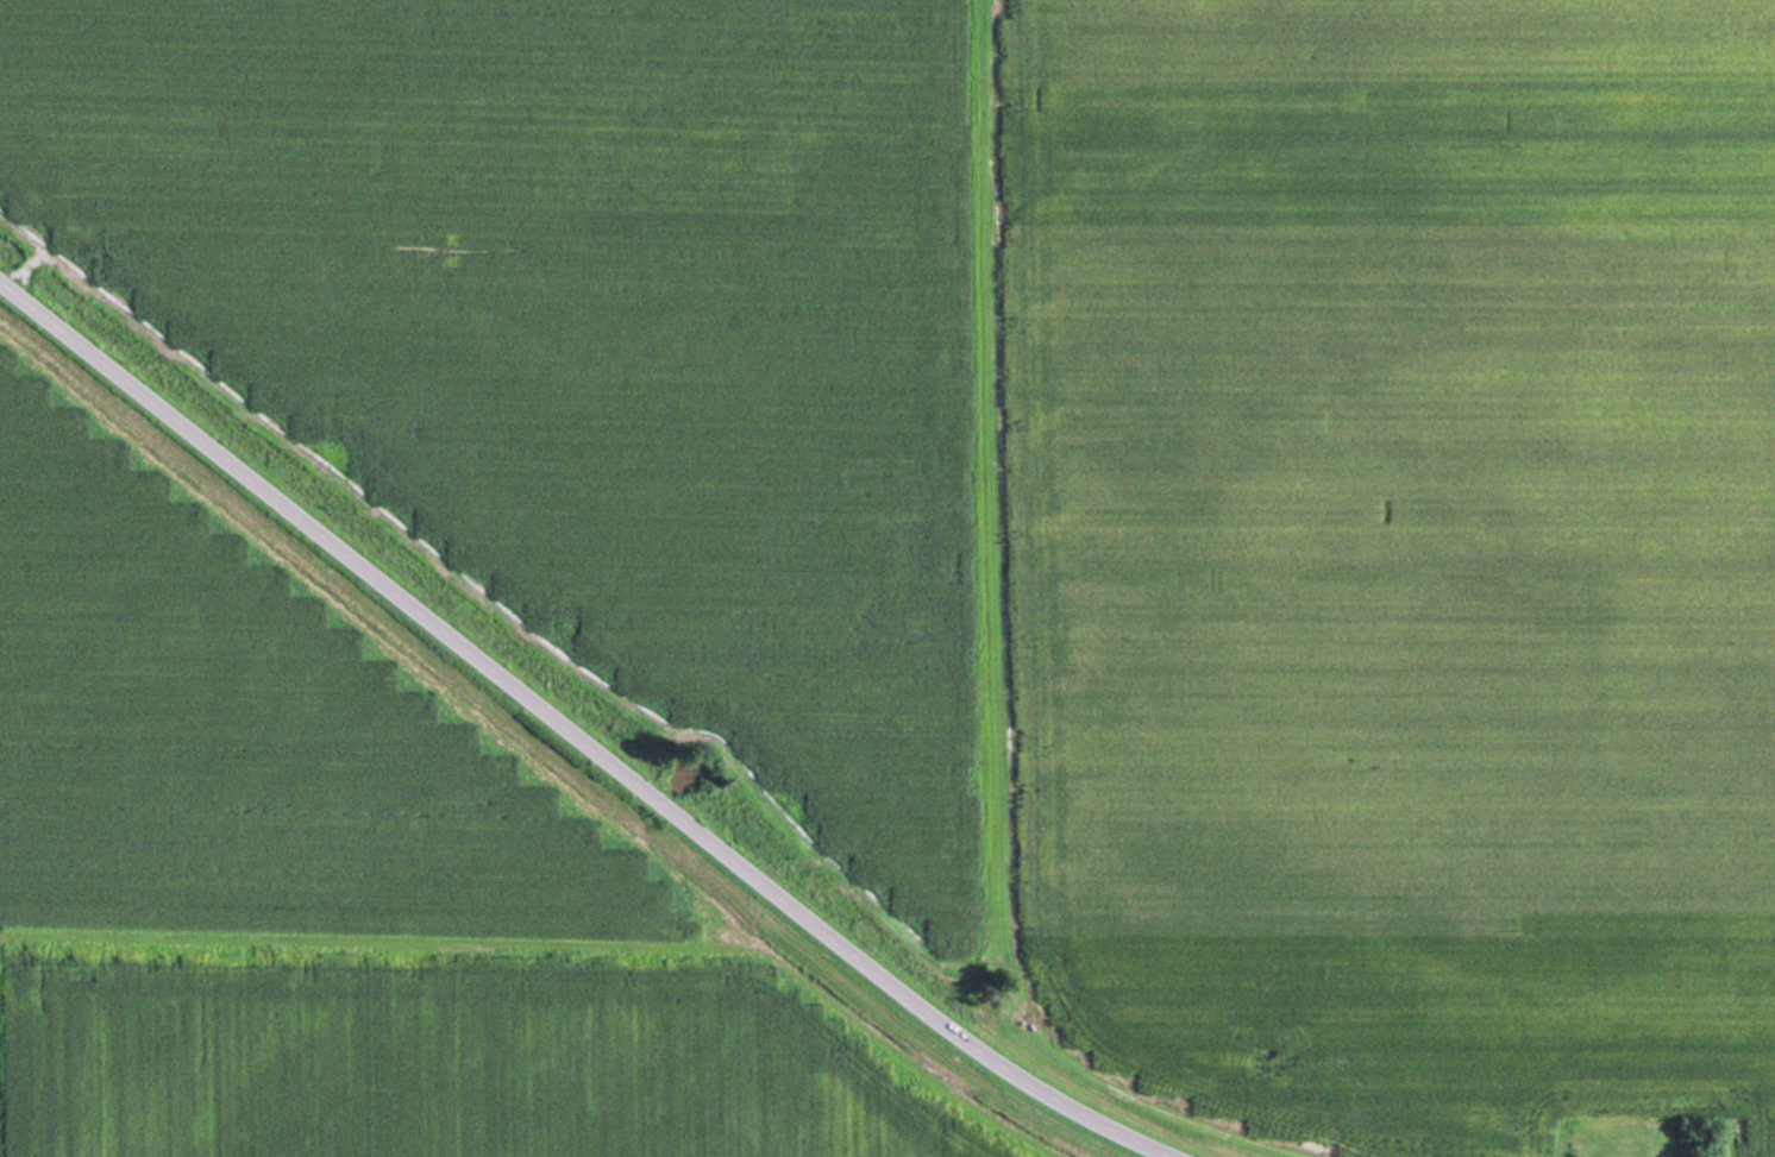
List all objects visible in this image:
road: (577, 737)

